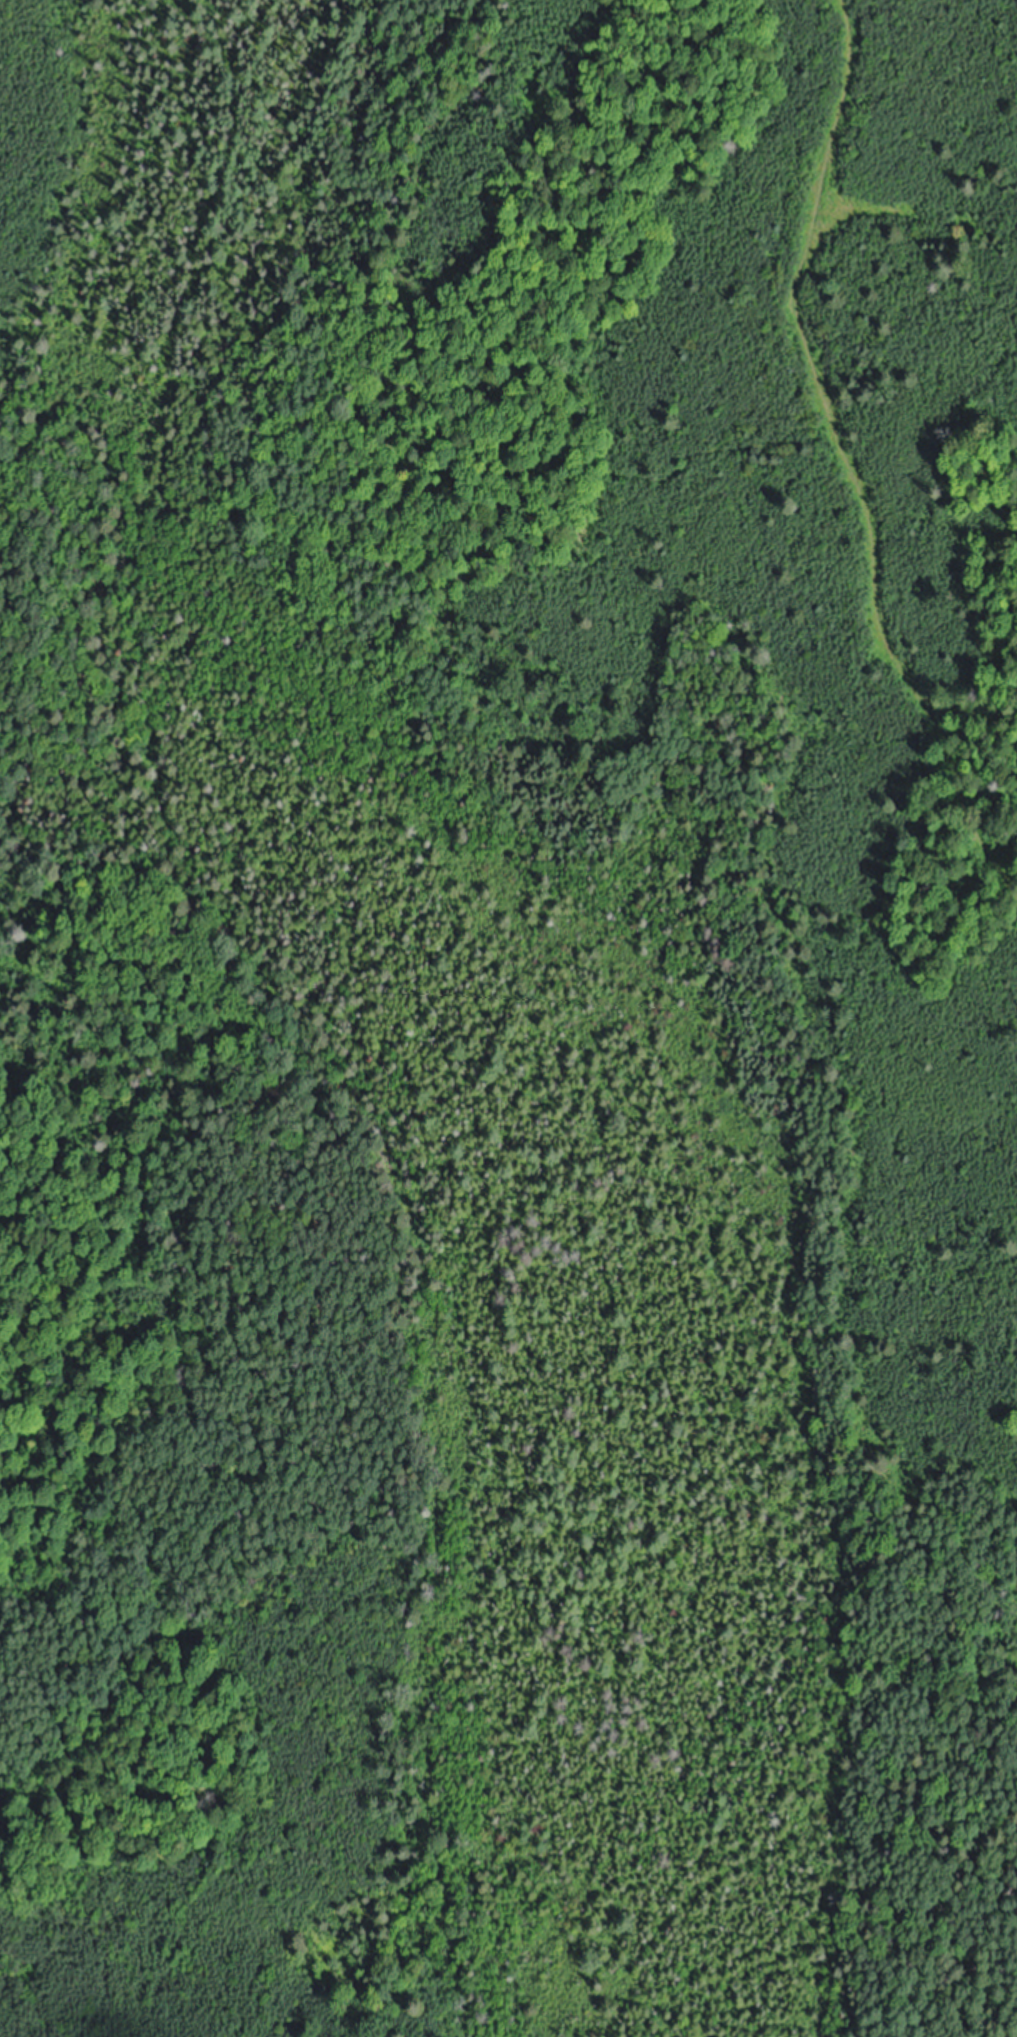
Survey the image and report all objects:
road: (833, 459)

